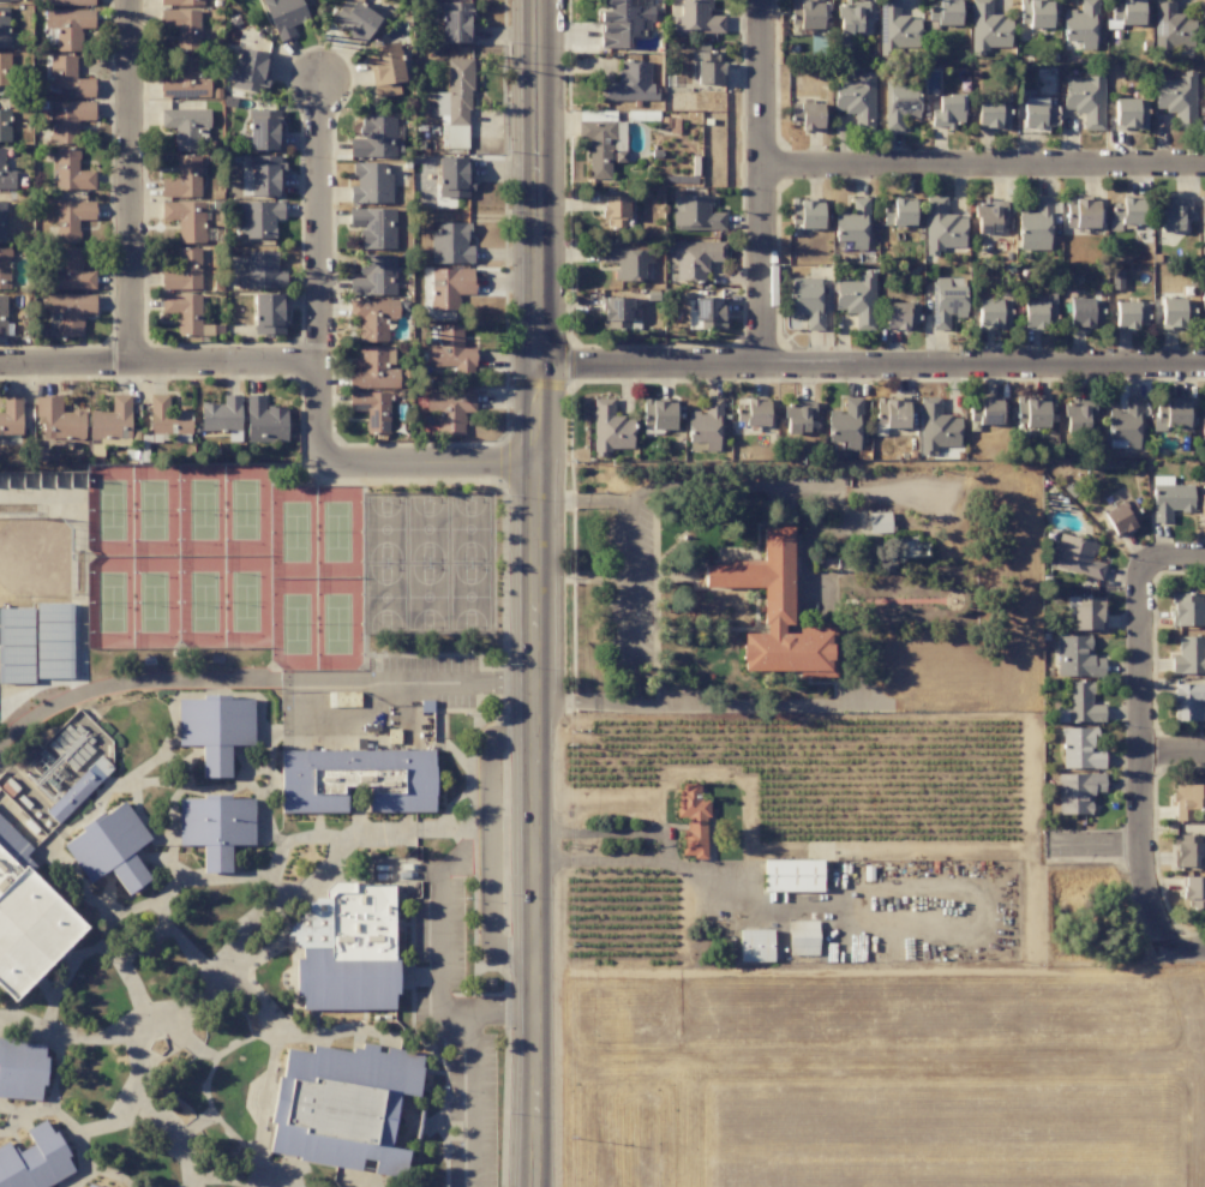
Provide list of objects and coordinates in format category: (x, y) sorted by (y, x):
building: (7, 0)
building: (68, 2)
building: (181, 2)
building: (943, 12)
building: (1126, 12)
building: (805, 13)
building: (1035, 13)
building: (1203, 13)
building: (283, 16)
building: (850, 16)
building: (354, 18)
building: (696, 18)
building: (455, 22)
building: (623, 22)
building: (4, 26)
building: (68, 26)
building: (182, 26)
building: (1080, 26)
building: (1170, 26)
building: (895, 28)
building: (987, 28)
building: (708, 66)
building: (385, 68)
building: (5, 70)
building: (250, 70)
building: (68, 77)
building: (1204, 78)
building: (186, 79)
building: (630, 83)
building: (1177, 98)
building: (856, 100)
building: (1085, 100)
building: (899, 102)
building: (456, 103)
building: (947, 112)
building: (1038, 112)
building: (1129, 114)
building: (807, 115)
building: (991, 115)
building: (68, 119)
building: (4, 125)
building: (187, 128)
building: (264, 130)
building: (374, 138)
building: (601, 140)
road: (985, 163)
building: (71, 170)
road: (568, 172)
building: (6, 174)
building: (263, 176)
building: (452, 178)
building: (182, 179)
road: (133, 181)
road: (766, 181)
building: (370, 182)
building: (613, 211)
building: (898, 212)
building: (1126, 212)
building: (695, 214)
building: (805, 214)
building: (1081, 214)
building: (1174, 214)
building: (989, 215)
building: (72, 218)
building: (257, 218)
building: (185, 220)
building: (2, 221)
building: (1201, 222)
building: (853, 224)
building: (1036, 226)
building: (373, 227)
building: (941, 227)
building: (450, 244)
building: (695, 258)
building: (628, 262)
building: (4, 268)
building: (70, 270)
building: (259, 270)
building: (182, 271)
road: (318, 272)
building: (374, 276)
building: (449, 287)
building: (856, 299)
building: (946, 300)
building: (807, 301)
building: (1203, 310)
building: (70, 311)
building: (184, 311)
building: (1039, 311)
building: (268, 313)
building: (615, 313)
building: (708, 313)
building: (1084, 313)
building: (1175, 313)
building: (993, 314)
building: (1131, 314)
building: (2, 316)
building: (900, 316)
building: (373, 318)
building: (450, 350)
road: (157, 362)
road: (568, 364)
road: (871, 365)
building: (374, 368)
building: (451, 408)
building: (372, 409)
building: (753, 410)
building: (985, 413)
building: (1031, 413)
building: (1170, 413)
building: (658, 414)
building: (891, 414)
building: (1078, 414)
building: (11, 415)
building: (221, 415)
building: (798, 415)
building: (58, 419)
building: (112, 420)
building: (167, 421)
building: (264, 421)
building: (846, 424)
building: (706, 425)
building: (1125, 425)
building: (1201, 425)
building: (936, 427)
building: (610, 428)
road: (432, 463)
road: (790, 482)
road: (581, 498)
building: (1169, 498)
building: (1201, 509)
building: (1122, 516)
building: (879, 522)
road: (571, 544)
building: (1077, 557)
road: (1174, 558)
road: (536, 593)
road: (631, 599)
building: (1186, 610)
building: (775, 612)
building: (1086, 612)
building: (52, 641)
building: (16, 646)
building: (1188, 655)
building: (1077, 658)
road: (260, 682)
road: (744, 700)
road: (584, 701)
building: (1188, 702)
building: (1080, 705)
building: (215, 730)
building: (1080, 749)
road: (1173, 753)
building: (61, 756)
road: (1140, 756)
building: (356, 780)
building: (78, 790)
building: (1078, 792)
building: (1187, 801)
building: (693, 820)
building: (215, 828)
road: (617, 832)
road: (486, 843)
building: (109, 847)
road: (1097, 847)
building: (1187, 850)
building: (792, 875)
road: (695, 876)
building: (1193, 891)
building: (28, 919)
building: (802, 937)
building: (755, 946)
building: (346, 949)
road: (1189, 951)
road: (442, 960)
road: (472, 1068)
building: (22, 1069)
building: (341, 1105)
building: (35, 1159)
building: (89, 1186)

